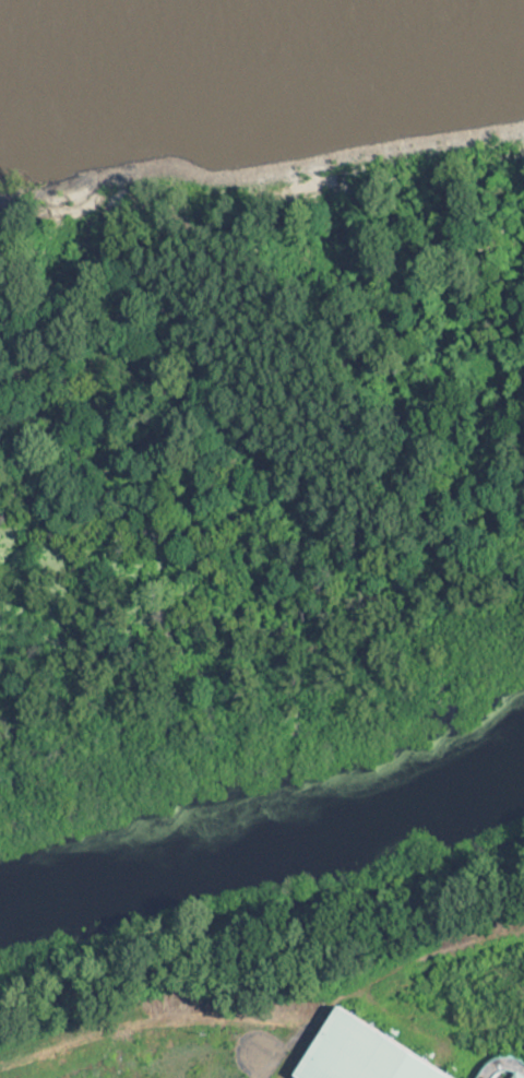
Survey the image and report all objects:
road: (215, 1047)
building: (377, 1052)
building: (508, 1067)

